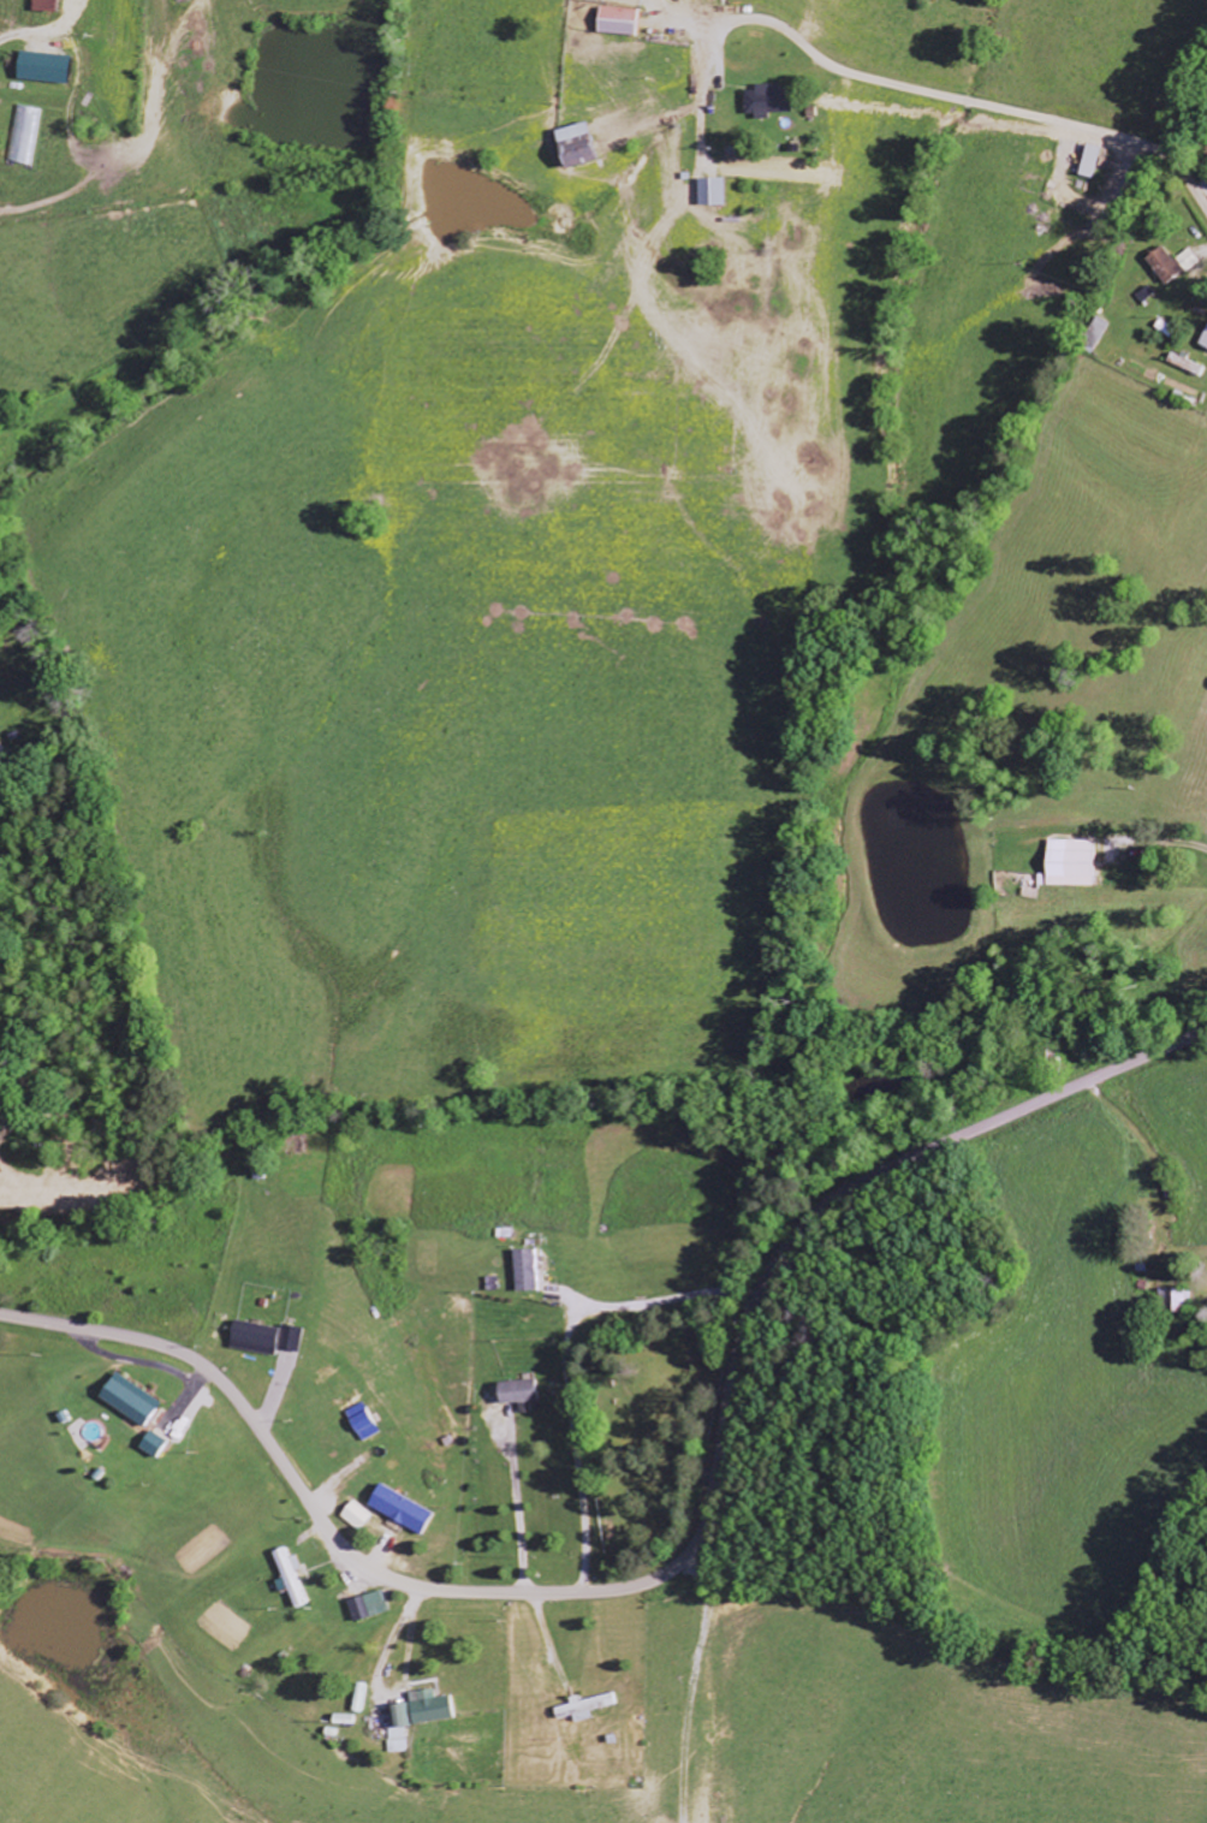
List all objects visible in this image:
building: (42, 6)
building: (614, 23)
building: (40, 69)
building: (762, 102)
road: (1005, 113)
building: (23, 136)
building: (571, 147)
building: (1087, 162)
building: (708, 194)
building: (1170, 265)
building: (1184, 364)
building: (1066, 863)
building: (527, 1270)
building: (1176, 1302)
building: (254, 1338)
building: (295, 1340)
building: (516, 1394)
building: (131, 1403)
building: (361, 1423)
building: (153, 1445)
building: (397, 1509)
building: (353, 1515)
road: (684, 1555)
building: (287, 1576)
building: (368, 1607)
road: (386, 1650)
road: (698, 1687)
building: (426, 1708)
building: (581, 1709)
building: (394, 1729)

